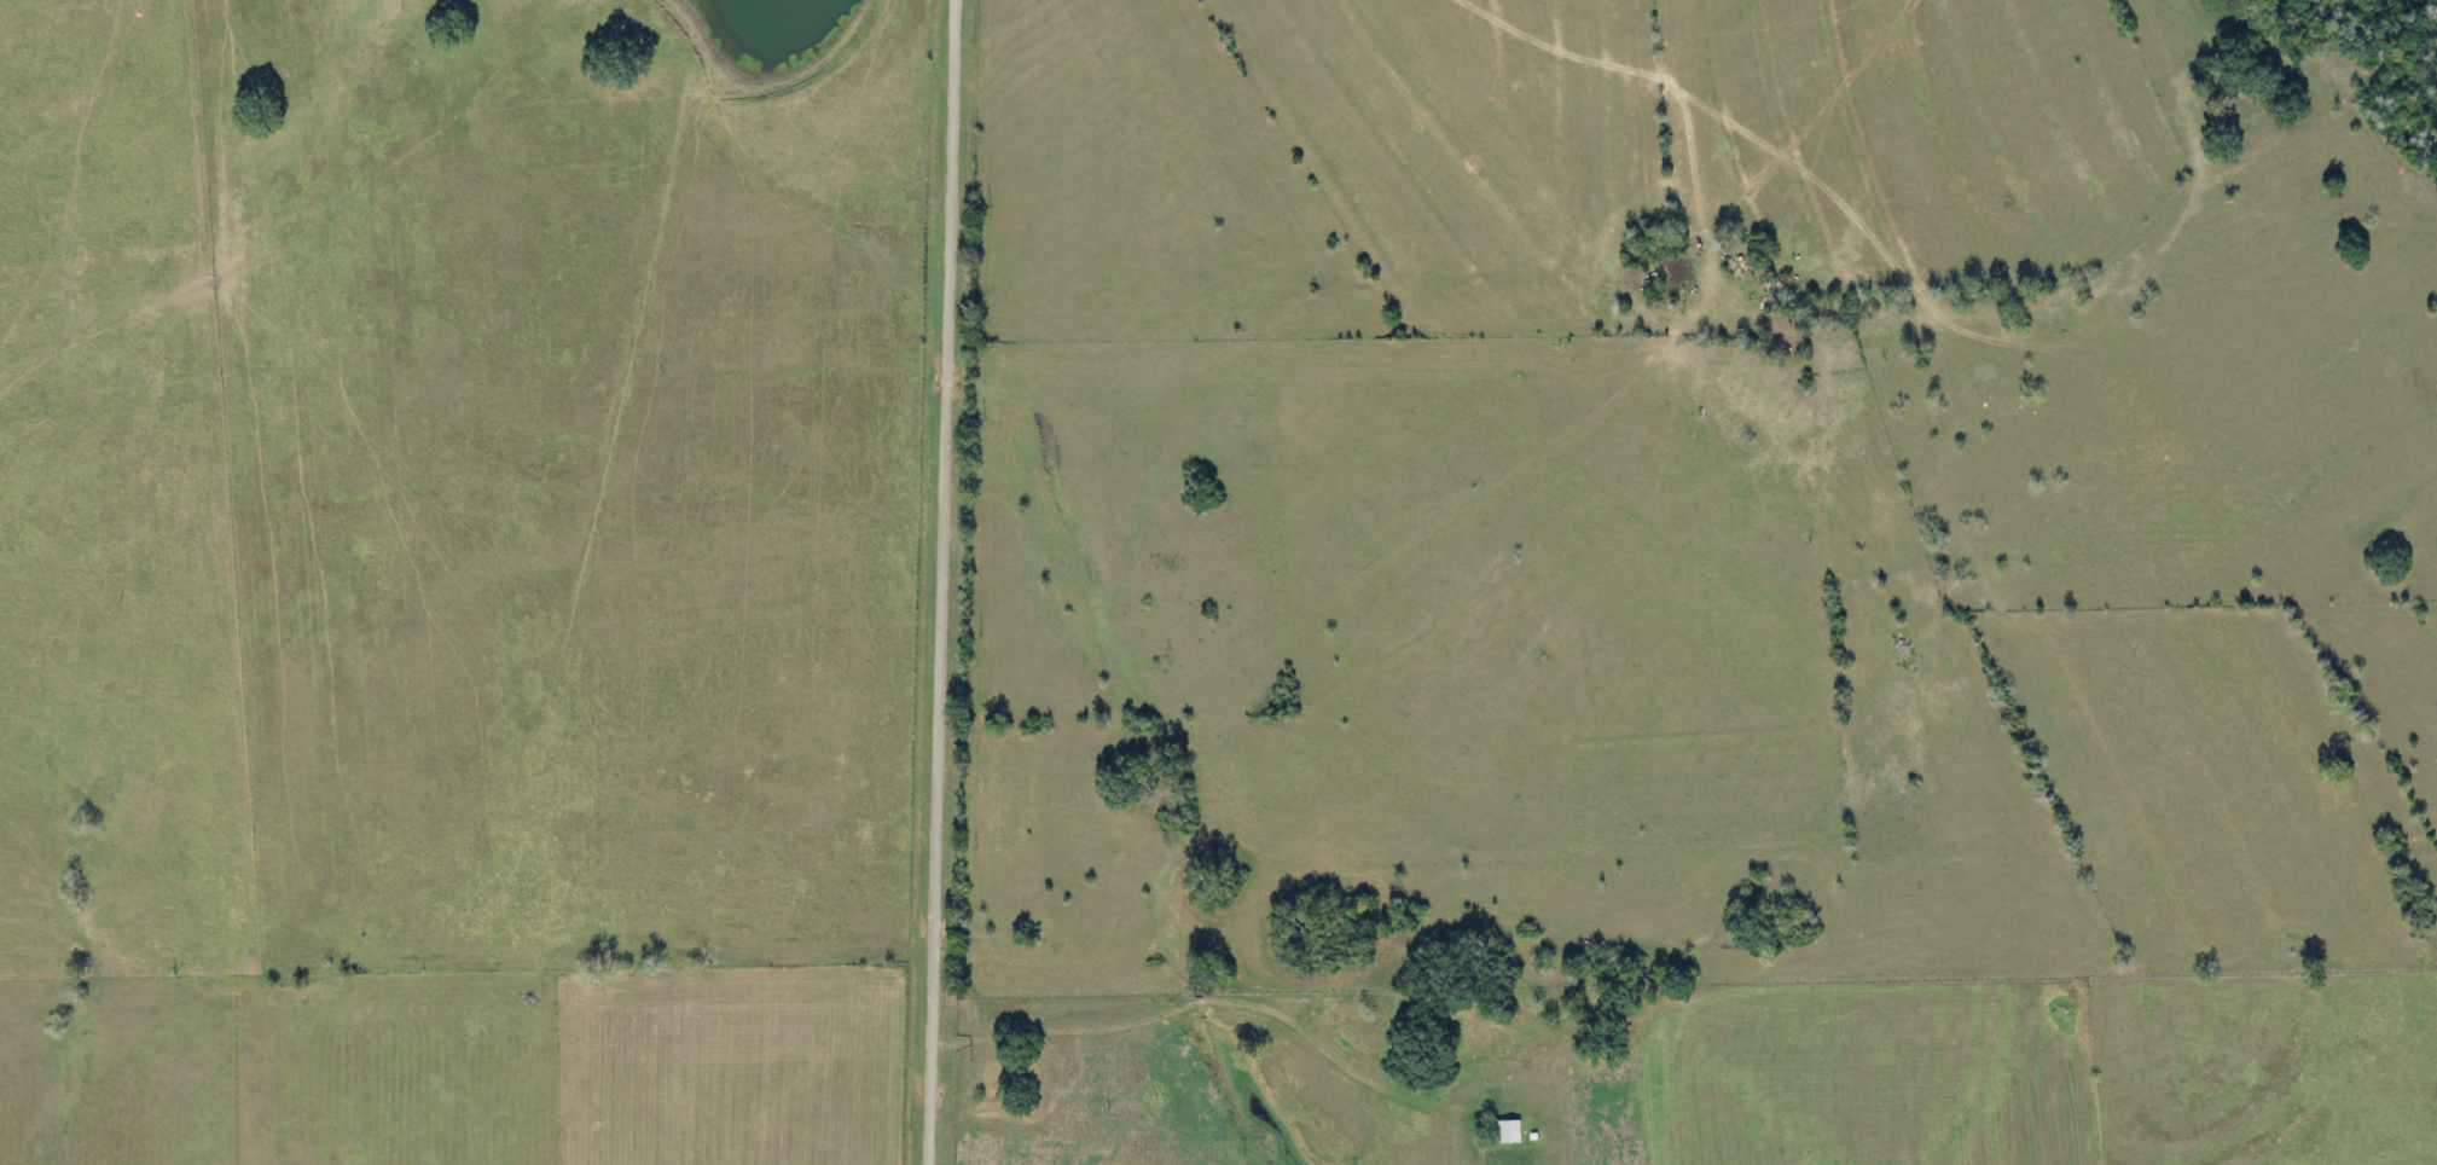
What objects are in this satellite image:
road: (940, 581)
building: (1510, 1132)

